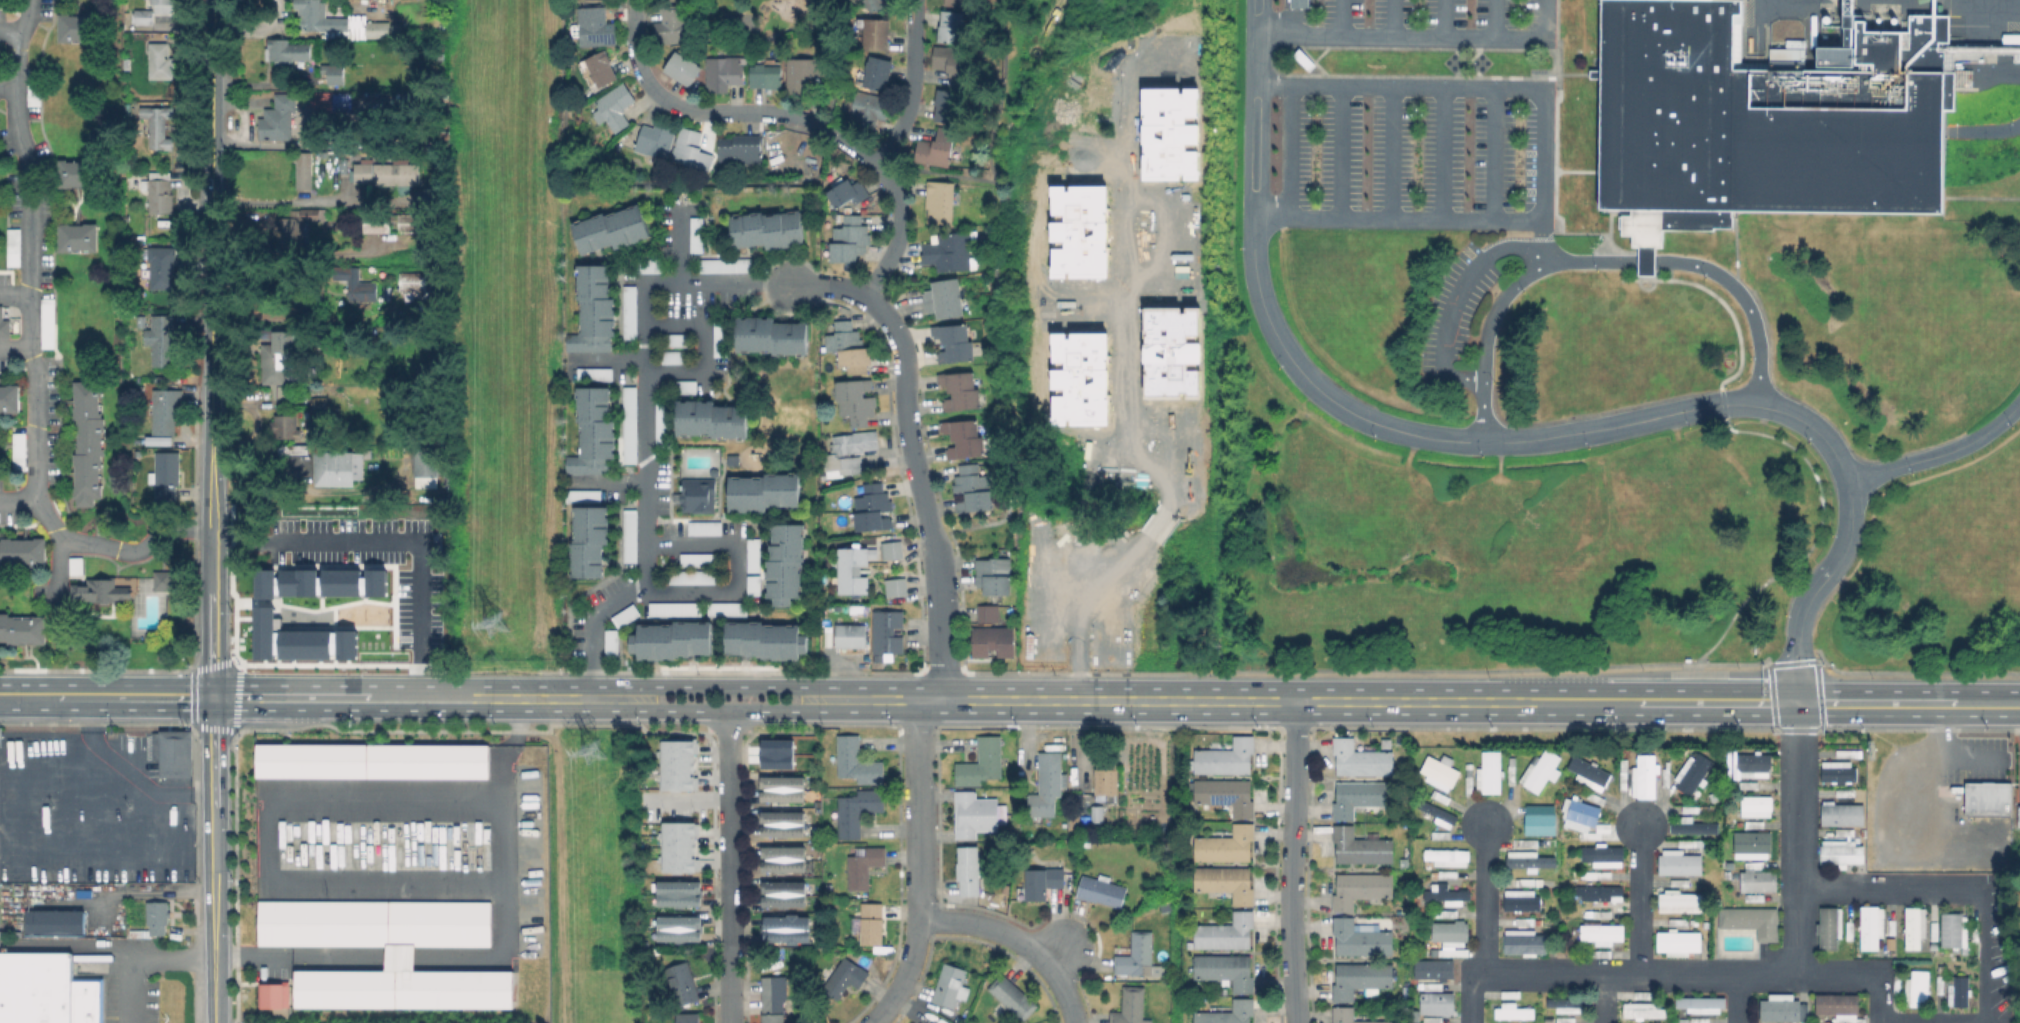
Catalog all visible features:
building: (163, 1)
building: (963, 1)
building: (1300, 3)
building: (876, 4)
building: (144, 16)
road: (1554, 22)
building: (339, 23)
building: (673, 25)
building: (952, 25)
building: (79, 27)
building: (594, 27)
road: (8, 28)
building: (877, 34)
road: (1418, 35)
road: (1558, 51)
building: (287, 52)
building: (128, 61)
building: (161, 61)
building: (951, 61)
building: (602, 68)
building: (683, 68)
building: (804, 72)
building: (878, 72)
building: (334, 73)
building: (724, 73)
road: (1568, 74)
building: (767, 76)
building: (35, 86)
road: (912, 86)
road: (8, 88)
building: (331, 102)
building: (949, 106)
building: (614, 107)
building: (868, 110)
road: (795, 116)
building: (1767, 116)
building: (279, 118)
road: (1553, 121)
building: (159, 126)
building: (656, 138)
building: (741, 148)
building: (937, 148)
building: (692, 149)
road: (1544, 153)
building: (304, 170)
building: (345, 171)
building: (79, 173)
building: (388, 175)
road: (1553, 179)
road: (211, 191)
building: (847, 192)
building: (162, 196)
road: (280, 200)
building: (940, 201)
building: (336, 212)
building: (411, 224)
building: (295, 226)
building: (378, 227)
road: (1544, 227)
building: (612, 230)
building: (769, 231)
road: (1582, 233)
building: (698, 235)
building: (80, 238)
building: (141, 238)
building: (850, 239)
building: (1648, 244)
building: (14, 246)
road: (34, 248)
building: (949, 251)
road: (1615, 251)
road: (1640, 251)
road: (1644, 262)
road: (1644, 265)
building: (163, 266)
building: (651, 266)
building: (729, 266)
building: (414, 282)
building: (357, 284)
road: (828, 286)
road: (17, 288)
road: (1458, 295)
road: (1713, 295)
building: (945, 299)
road: (1504, 299)
road: (1747, 301)
building: (597, 303)
building: (631, 311)
road: (1119, 316)
building: (49, 322)
building: (5, 324)
building: (261, 332)
building: (722, 337)
building: (773, 338)
building: (162, 339)
building: (676, 340)
building: (955, 342)
building: (590, 344)
road: (699, 345)
building: (850, 347)
road: (17, 349)
building: (279, 355)
building: (677, 358)
building: (596, 375)
building: (686, 387)
building: (961, 390)
building: (11, 398)
building: (319, 401)
building: (856, 401)
road: (1721, 402)
building: (165, 412)
road: (1646, 419)
building: (712, 420)
building: (592, 422)
building: (664, 423)
building: (631, 426)
building: (286, 427)
road: (646, 432)
building: (964, 438)
building: (90, 441)
road: (211, 448)
building: (291, 449)
building: (20, 450)
building: (849, 451)
road: (1939, 452)
building: (428, 460)
building: (584, 464)
building: (338, 469)
building: (167, 476)
building: (973, 488)
building: (765, 493)
road: (920, 493)
building: (700, 496)
building: (585, 497)
building: (873, 507)
building: (706, 529)
road: (1155, 532)
building: (631, 537)
building: (590, 542)
road: (391, 546)
road: (108, 548)
building: (889, 549)
building: (23, 551)
building: (755, 556)
building: (699, 561)
road: (1793, 563)
building: (787, 565)
building: (78, 566)
road: (728, 569)
building: (850, 569)
building: (994, 576)
building: (693, 578)
building: (165, 580)
building: (893, 586)
building: (755, 587)
building: (101, 590)
road: (212, 604)
building: (259, 605)
building: (677, 609)
building: (729, 610)
road: (1082, 611)
building: (985, 613)
building: (627, 616)
power tower: (494, 621)
building: (23, 629)
building: (888, 632)
building: (850, 636)
building: (675, 641)
building: (767, 641)
building: (979, 641)
building: (1001, 641)
building: (612, 644)
road: (1767, 667)
road: (729, 687)
road: (106, 697)
traffic signals: (213, 697)
road: (330, 697)
road: (521, 698)
road: (604, 698)
road: (746, 699)
road: (1433, 701)
traffic signals: (1797, 702)
road: (728, 712)
road: (1956, 749)
building: (1850, 752)
building: (176, 753)
building: (1227, 758)
building: (1361, 759)
building: (373, 762)
building: (857, 762)
building: (982, 763)
building: (1754, 764)
building: (680, 765)
building: (1512, 770)
building: (1541, 771)
building: (1838, 771)
building: (1490, 772)
building: (1590, 772)
road: (128, 773)
building: (1440, 773)
building: (1694, 773)
building: (1624, 774)
building: (1470, 775)
building: (1645, 776)
building: (1106, 779)
building: (1667, 781)
building: (1047, 784)
building: (1755, 785)
building: (785, 789)
building: (1846, 792)
building: (1227, 796)
building: (1596, 797)
building: (1360, 798)
building: (1989, 800)
rooftop solar panel: (1221, 801)
building: (1757, 805)
road: (917, 808)
building: (1545, 809)
building: (1696, 810)
building: (858, 811)
building: (1097, 813)
building: (1440, 814)
building: (974, 815)
building: (1843, 815)
building: (2018, 816)
building: (1583, 818)
building: (785, 824)
building: (1755, 824)
building: (1536, 825)
building: (1692, 825)
road: (730, 828)
building: (1845, 832)
building: (1442, 834)
building: (1529, 842)
building: (1227, 845)
building: (1752, 846)
building: (1361, 847)
building: (681, 848)
building: (1841, 853)
building: (1603, 855)
building: (131, 857)
building: (1448, 857)
building: (1524, 858)
building: (783, 859)
building: (1681, 859)
road: (213, 860)
road: (1292, 862)
building: (1755, 864)
building: (864, 867)
building: (968, 870)
building: (1449, 874)
building: (1599, 874)
building: (1756, 880)
building: (1526, 881)
building: (1043, 882)
building: (1227, 882)
building: (1539, 882)
building: (1684, 882)
building: (1360, 889)
road: (1891, 889)
building: (1101, 890)
building: (1600, 892)
building: (680, 894)
building: (1448, 894)
building: (784, 895)
road: (1486, 898)
building: (1751, 898)
building: (1522, 899)
building: (1680, 899)
road: (1641, 900)
building: (1447, 912)
building: (1603, 913)
building: (157, 916)
building: (1752, 920)
building: (1526, 921)
building: (55, 922)
building: (872, 923)
building: (1831, 926)
building: (1872, 926)
building: (1915, 928)
building: (681, 929)
building: (1850, 930)
building: (1934, 930)
building: (1973, 930)
building: (786, 931)
building: (1892, 931)
building: (1954, 931)
building: (1226, 933)
building: (1604, 934)
building: (1450, 936)
building: (1360, 939)
road: (1019, 940)
building: (1524, 942)
building: (1679, 942)
road: (76, 944)
road: (1059, 946)
building: (388, 953)
building: (1602, 953)
road: (1985, 956)
road: (288, 957)
building: (1138, 957)
road: (139, 958)
building: (1227, 970)
building: (1437, 971)
road: (1672, 974)
road: (904, 976)
building: (846, 977)
building: (1361, 979)
building: (683, 983)
road: (732, 983)
building: (1897, 984)
building: (1940, 985)
building: (951, 986)
building: (1431, 986)
building: (1918, 988)
building: (46, 990)
building: (1510, 994)
building: (1778, 994)
building: (1959, 994)
building: (1644, 995)
building: (273, 997)
building: (1013, 997)
building: (774, 998)
road: (1604, 998)
road: (1739, 998)
building: (1438, 1003)
building: (1569, 1004)
building: (1702, 1004)
building: (1130, 1006)
building: (1838, 1006)
building: (1512, 1009)
building: (1642, 1010)
building: (1781, 1011)
building: (1229, 1013)
building: (1349, 1016)
building: (688, 1018)
building: (1434, 1019)
building: (1695, 1020)
building: (932, 1021)
building: (936, 1022)

